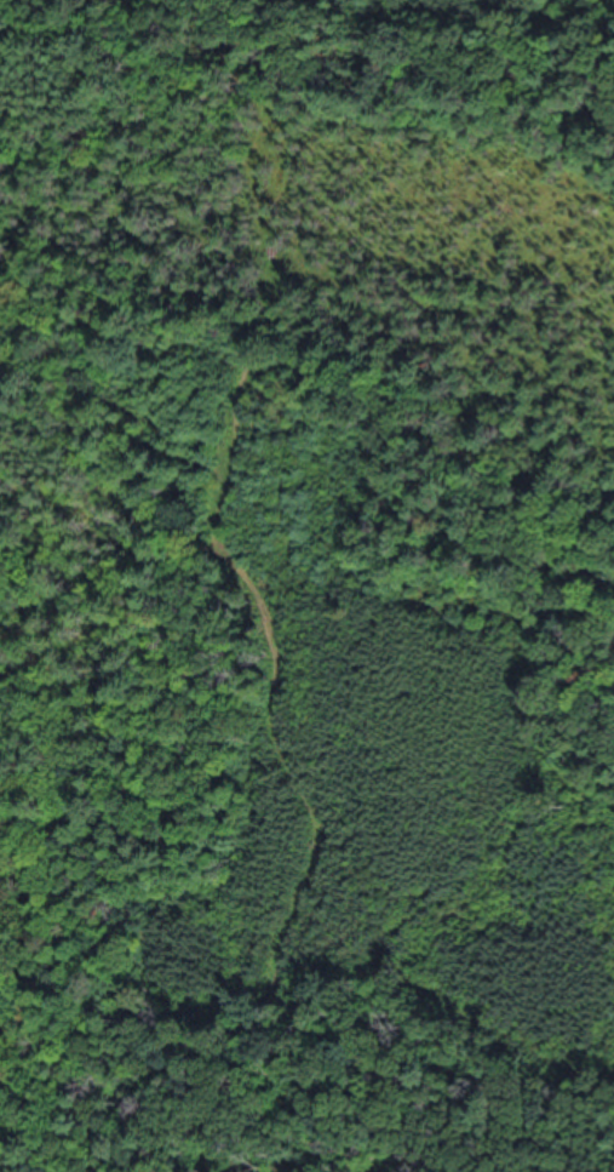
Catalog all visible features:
park: (306, 585)

